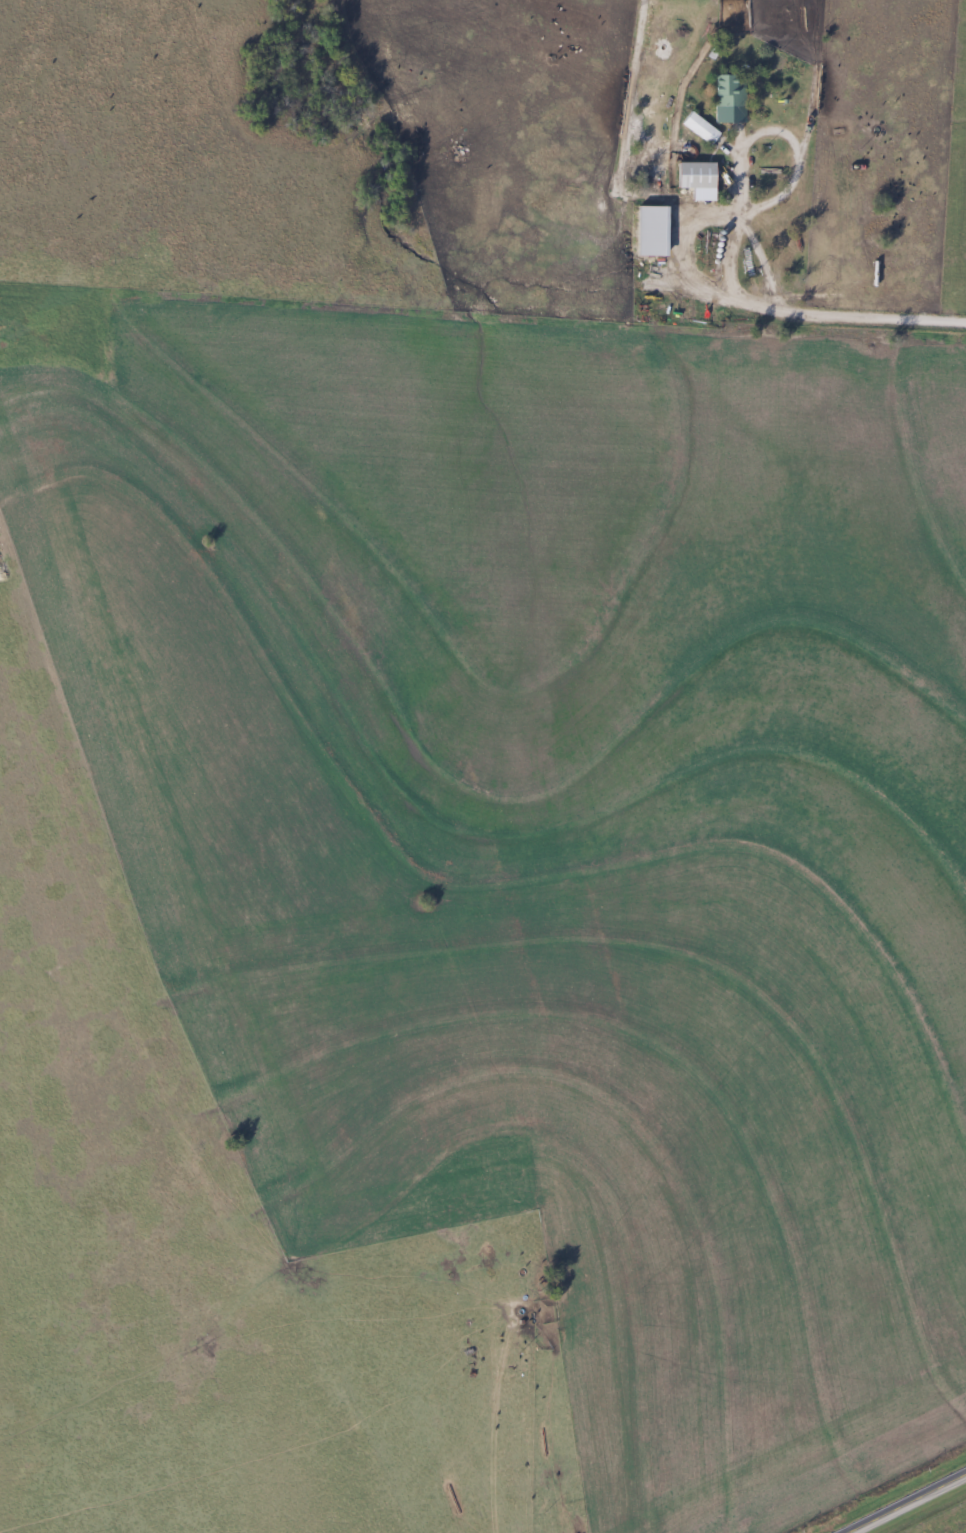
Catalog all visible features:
building: (728, 95)
building: (699, 129)
building: (695, 176)
road: (786, 314)
road: (907, 1503)

